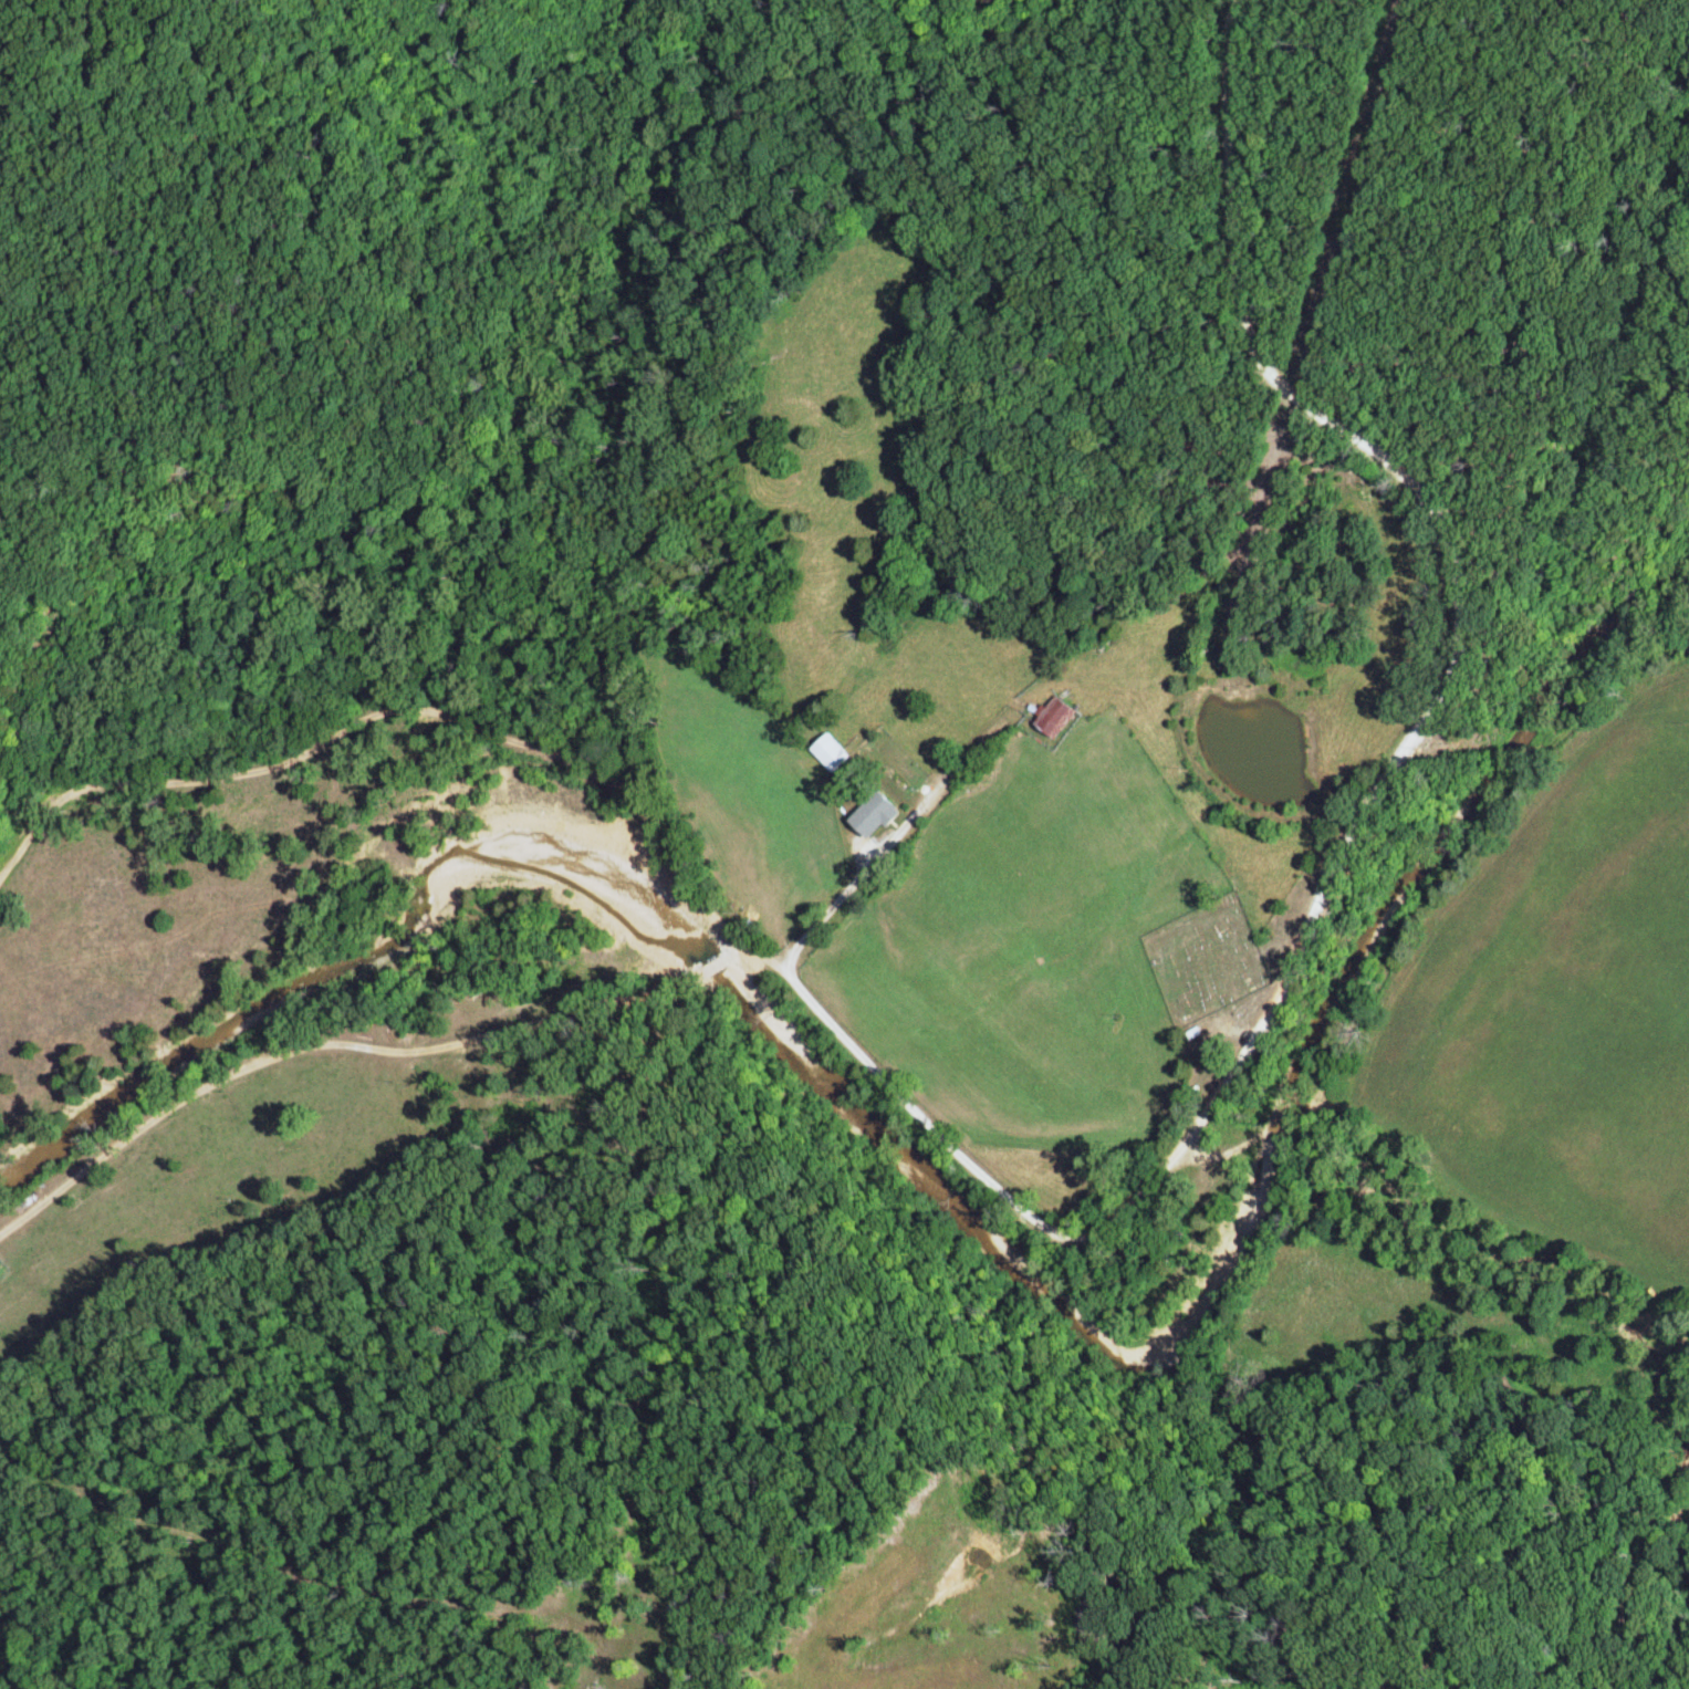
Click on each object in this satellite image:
road: (894, 809)
building: (874, 813)
park: (1205, 960)
road: (1113, 1208)

